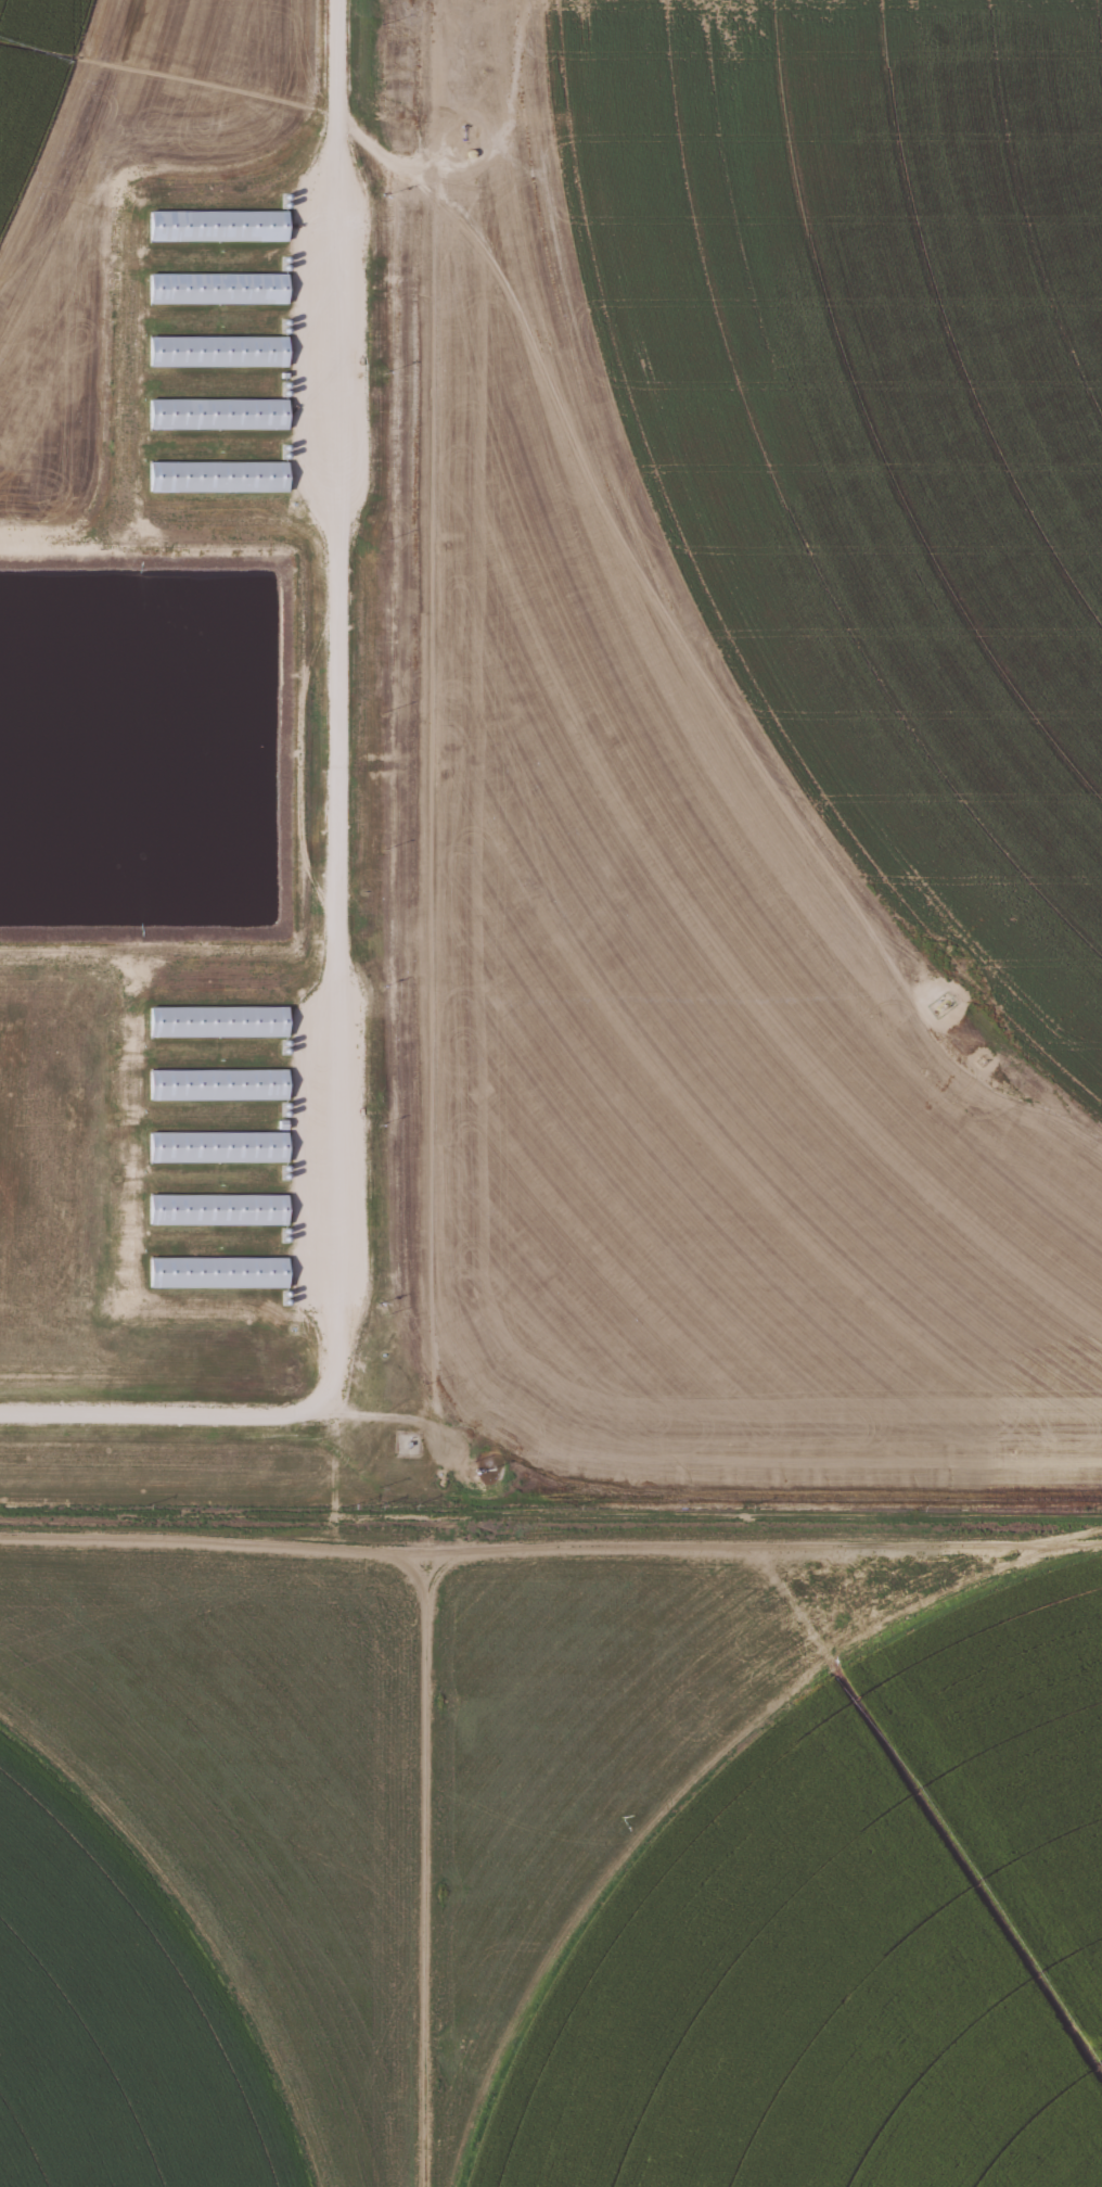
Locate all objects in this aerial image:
building: (218, 226)
building: (218, 289)
building: (218, 351)
building: (218, 1021)
building: (218, 1084)
building: (218, 1147)

